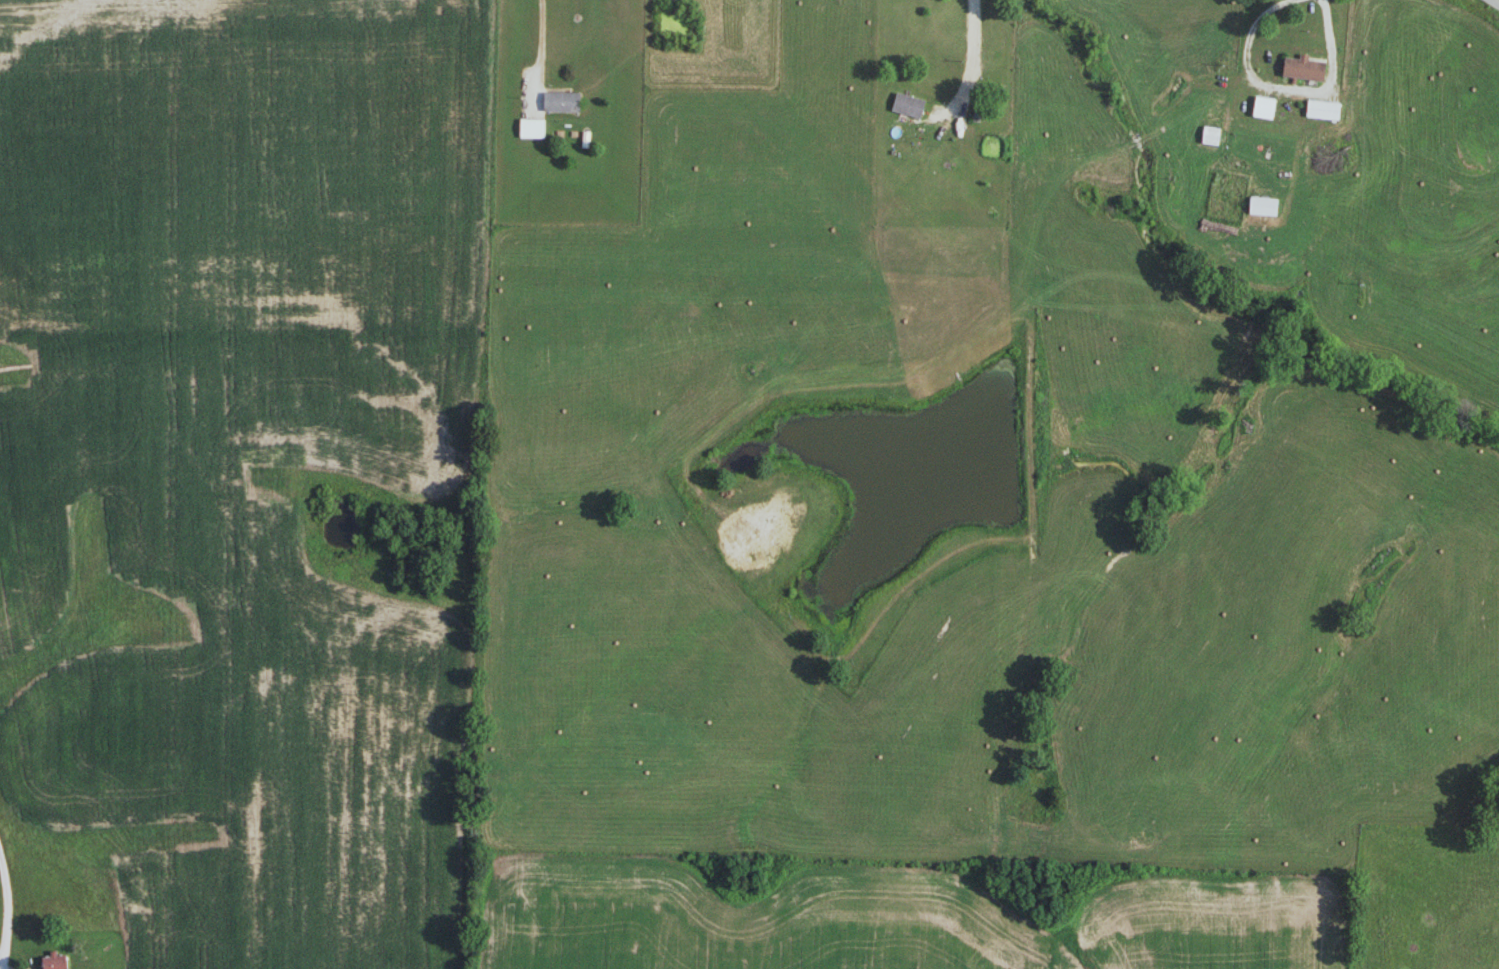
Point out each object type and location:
road: (1496, 2)
road: (548, 51)
road: (969, 68)
building: (1305, 68)
road: (1281, 87)
building: (561, 102)
building: (908, 105)
building: (1264, 107)
building: (1324, 110)
building: (532, 129)
building: (1211, 136)
building: (1264, 207)
road: (9, 908)
building: (55, 961)

